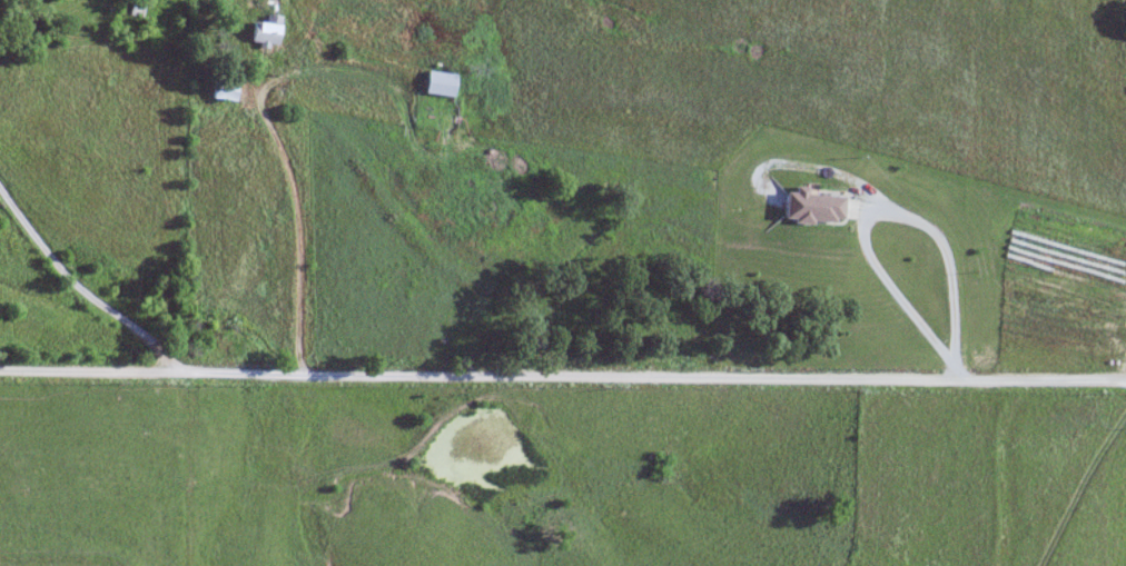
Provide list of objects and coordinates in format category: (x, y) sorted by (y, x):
building: (264, 32)
building: (438, 85)
building: (223, 91)
road: (885, 207)
building: (812, 208)
road: (296, 231)
road: (75, 288)
road: (563, 375)

